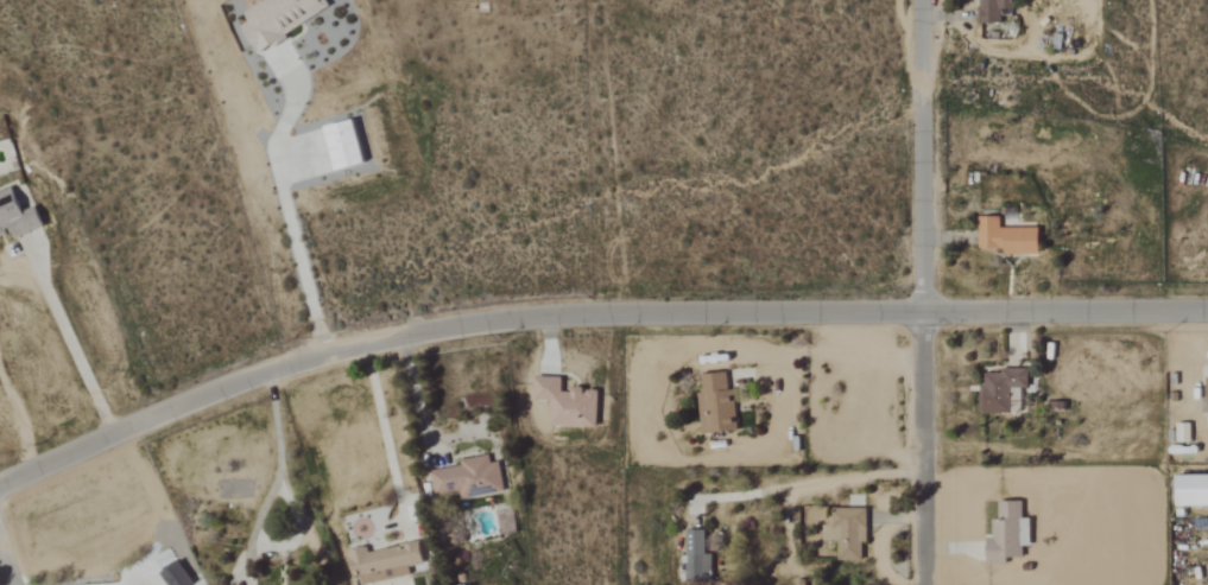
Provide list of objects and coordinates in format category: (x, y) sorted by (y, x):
building: (994, 11)
building: (280, 19)
building: (346, 147)
building: (17, 216)
road: (285, 221)
building: (1008, 239)
road: (924, 292)
road: (589, 316)
road: (71, 348)
building: (1003, 390)
road: (418, 395)
building: (1206, 395)
building: (568, 402)
building: (716, 405)
building: (1183, 432)
road: (384, 437)
building: (469, 478)
road: (811, 487)
building: (1191, 490)
road: (261, 511)
building: (506, 522)
building: (848, 532)
building: (1010, 533)
building: (697, 558)
building: (385, 562)
road: (6, 564)
building: (178, 574)
road: (138, 580)

